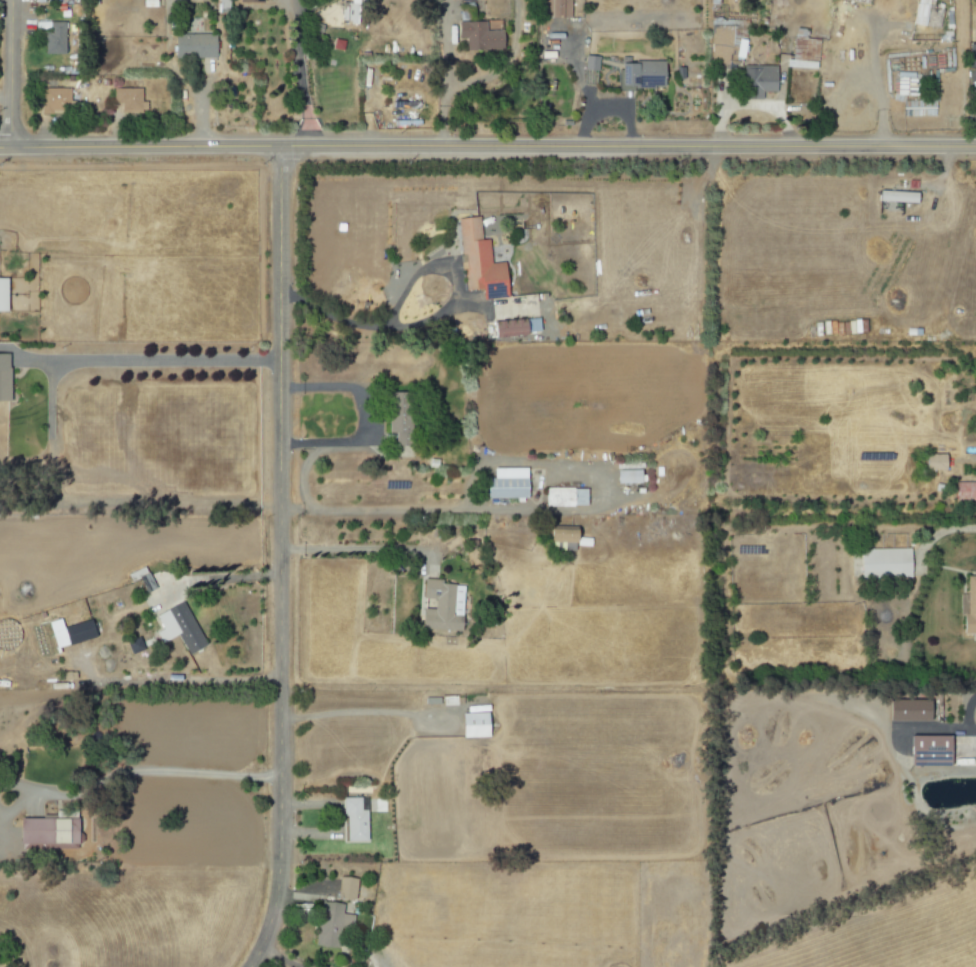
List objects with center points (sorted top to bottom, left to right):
building: (248, 1)
building: (552, 8)
building: (924, 14)
building: (53, 36)
building: (477, 36)
building: (725, 43)
building: (192, 45)
building: (803, 52)
building: (971, 55)
building: (589, 63)
road: (297, 72)
road: (873, 72)
road: (9, 73)
road: (445, 73)
building: (639, 74)
building: (757, 81)
road: (581, 88)
building: (53, 100)
building: (127, 100)
road: (626, 108)
road: (487, 146)
building: (896, 196)
building: (478, 261)
building: (1, 295)
road: (430, 307)
building: (513, 327)
road: (154, 362)
building: (3, 377)
road: (359, 415)
building: (395, 416)
building: (932, 462)
building: (625, 476)
building: (505, 483)
building: (964, 491)
building: (563, 497)
road: (296, 509)
road: (359, 510)
road: (943, 530)
building: (560, 533)
building: (561, 546)
road: (349, 550)
road: (278, 558)
building: (883, 563)
building: (143, 579)
road: (212, 580)
building: (437, 607)
building: (968, 608)
building: (178, 627)
building: (68, 632)
road: (184, 681)
building: (906, 710)
road: (361, 716)
building: (472, 725)
building: (927, 751)
road: (183, 773)
building: (353, 820)
building: (45, 832)
building: (344, 888)
building: (330, 924)
road: (279, 958)

